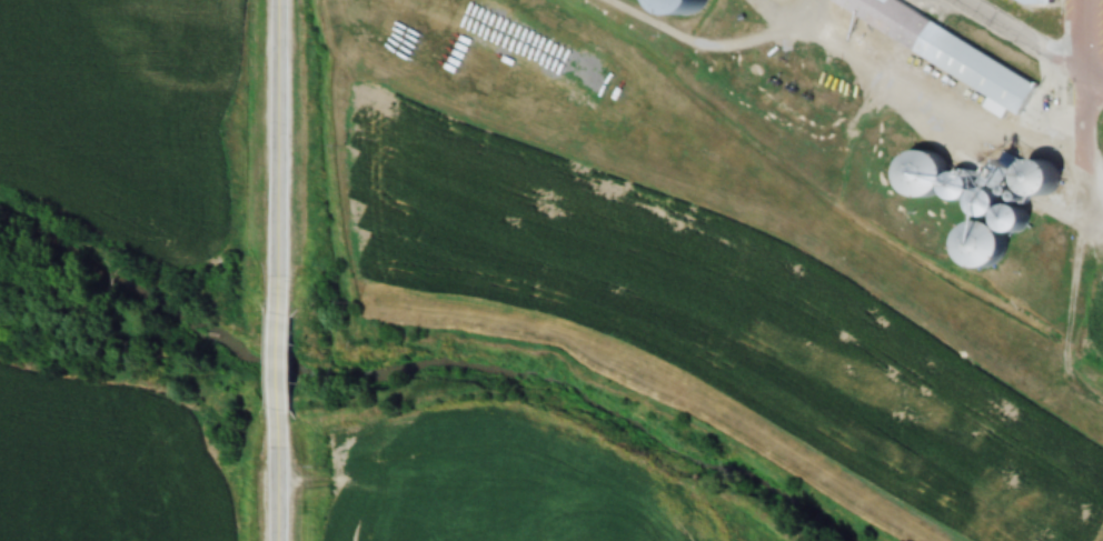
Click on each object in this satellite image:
building: (1035, 1)
building: (675, 7)
road: (1083, 37)
road: (1032, 42)
building: (935, 48)
road: (276, 131)
building: (913, 173)
building: (1027, 178)
building: (1006, 222)
building: (972, 243)
road: (276, 341)
river: (421, 371)
crop: (102, 467)
road: (276, 480)

